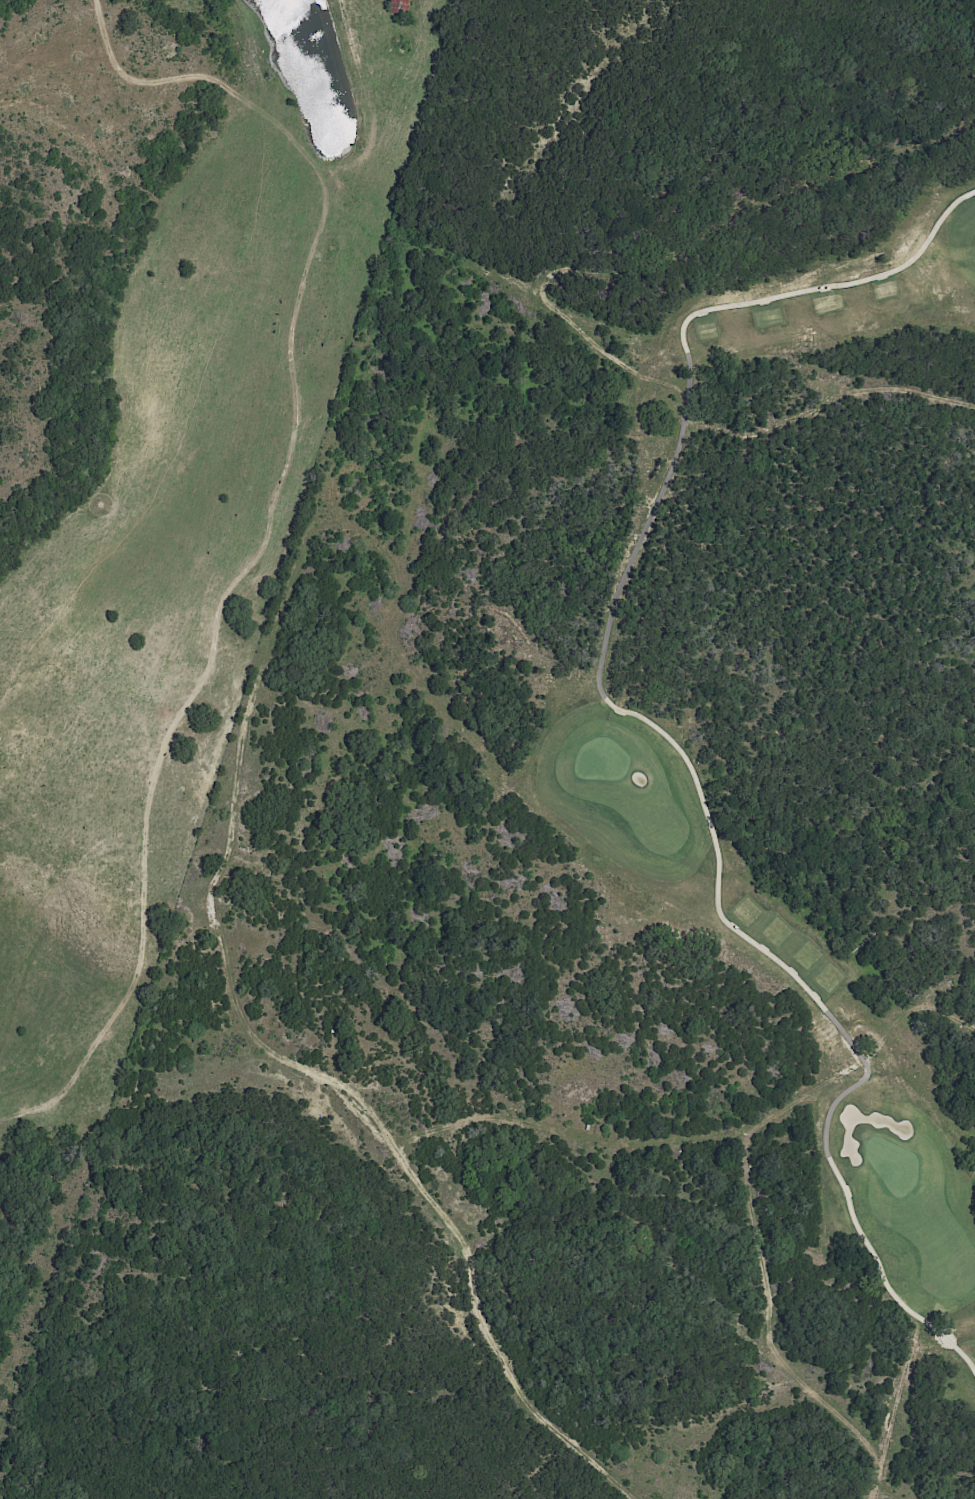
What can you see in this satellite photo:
road: (658, 729)
road: (972, 1024)

